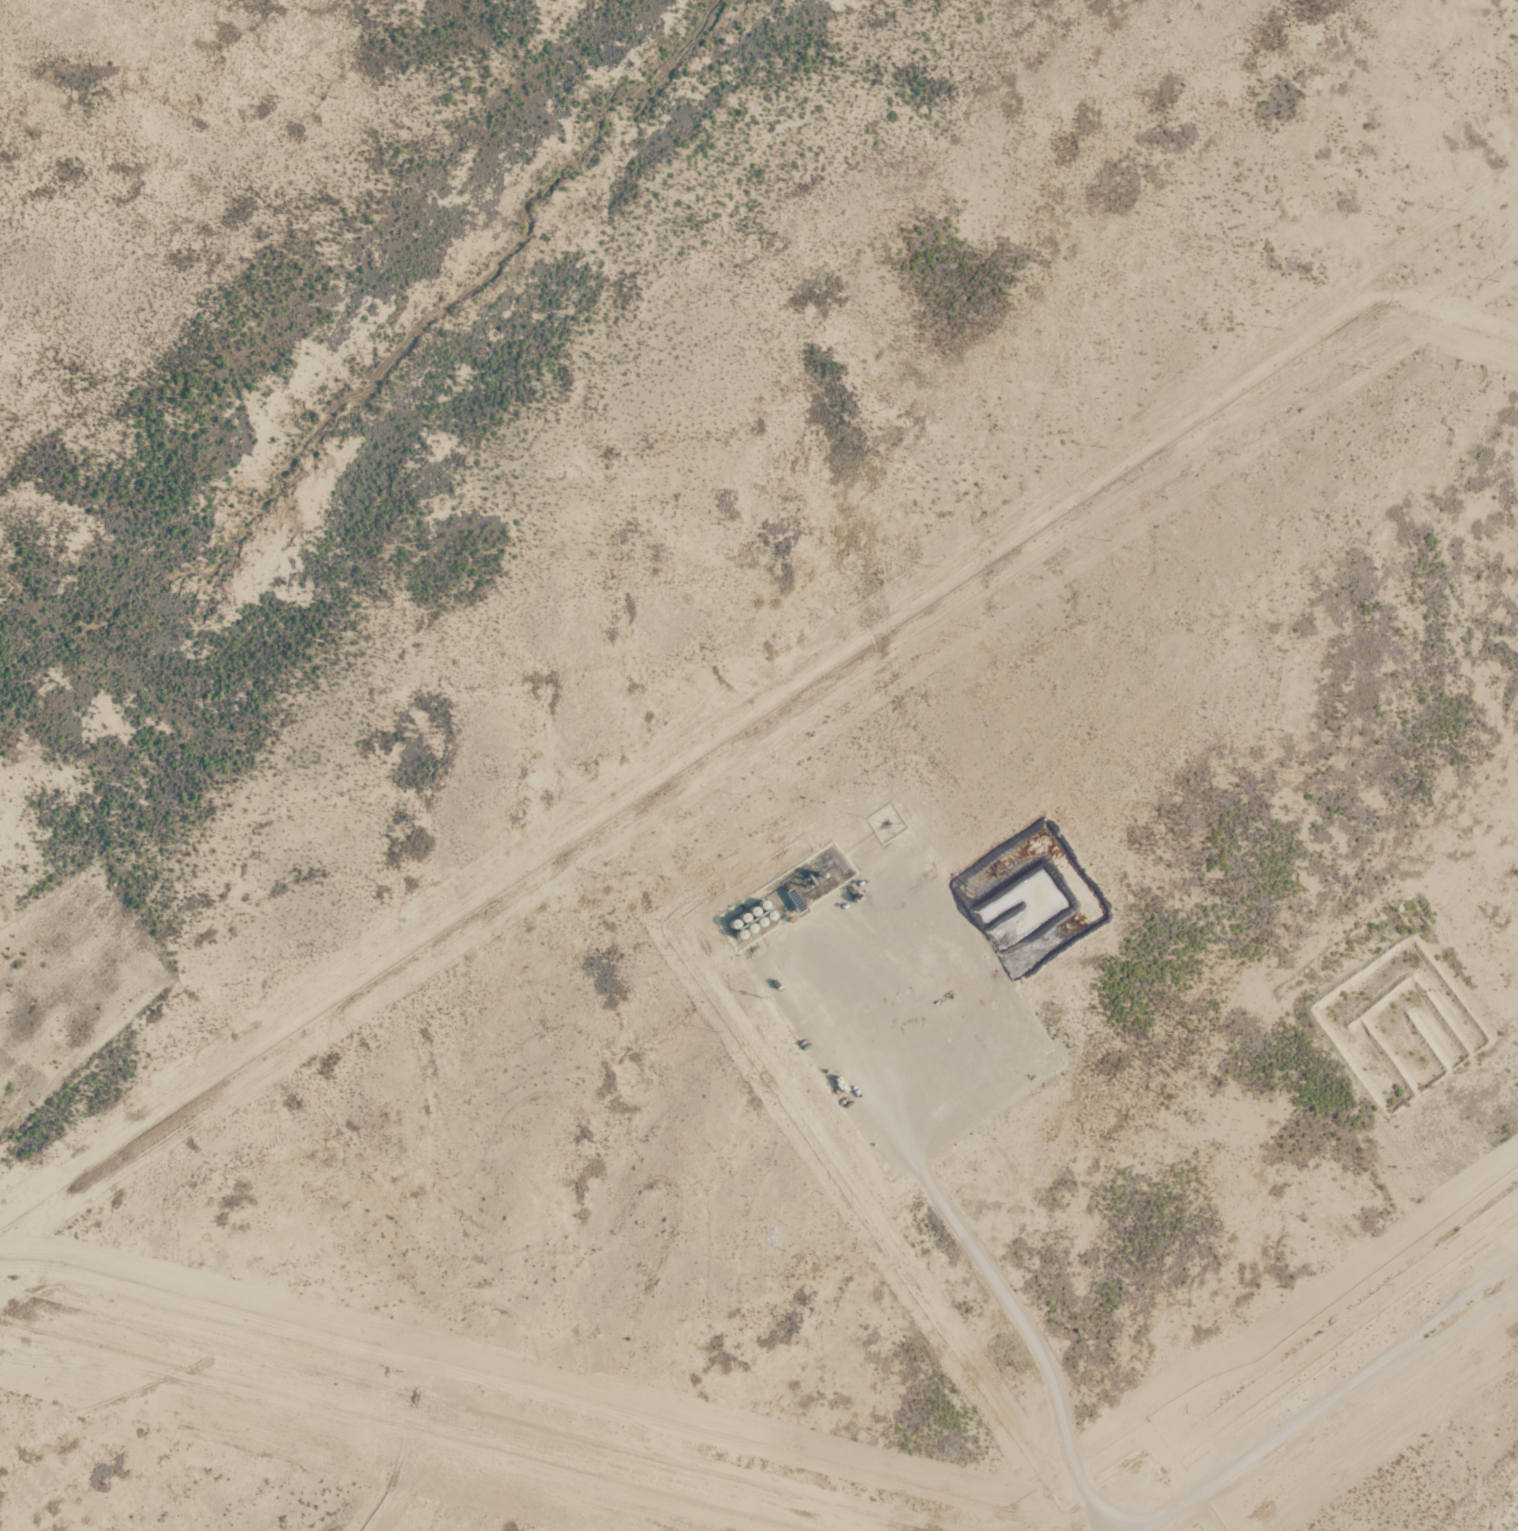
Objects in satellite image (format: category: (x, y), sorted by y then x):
road: (1333, 1394)

